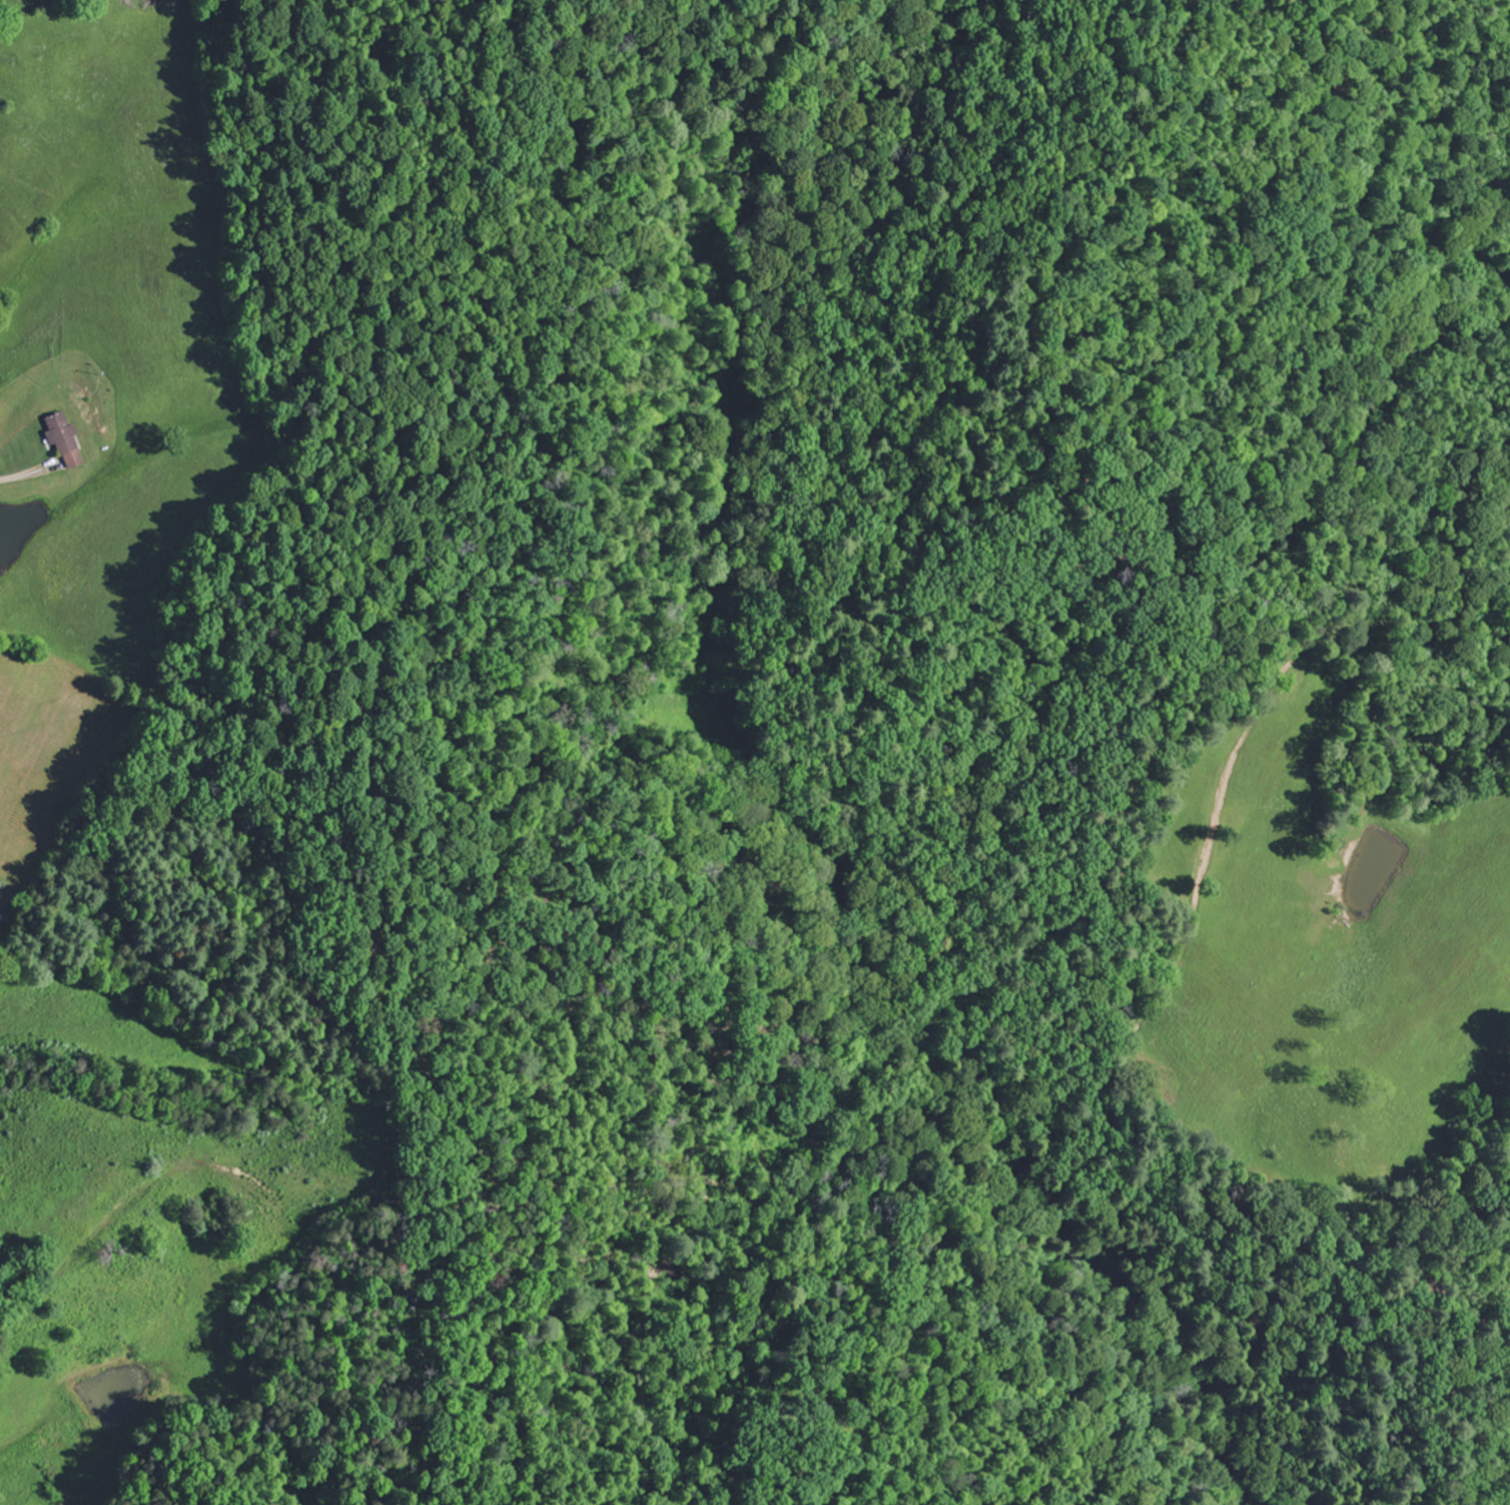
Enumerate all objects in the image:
building: (65, 440)

